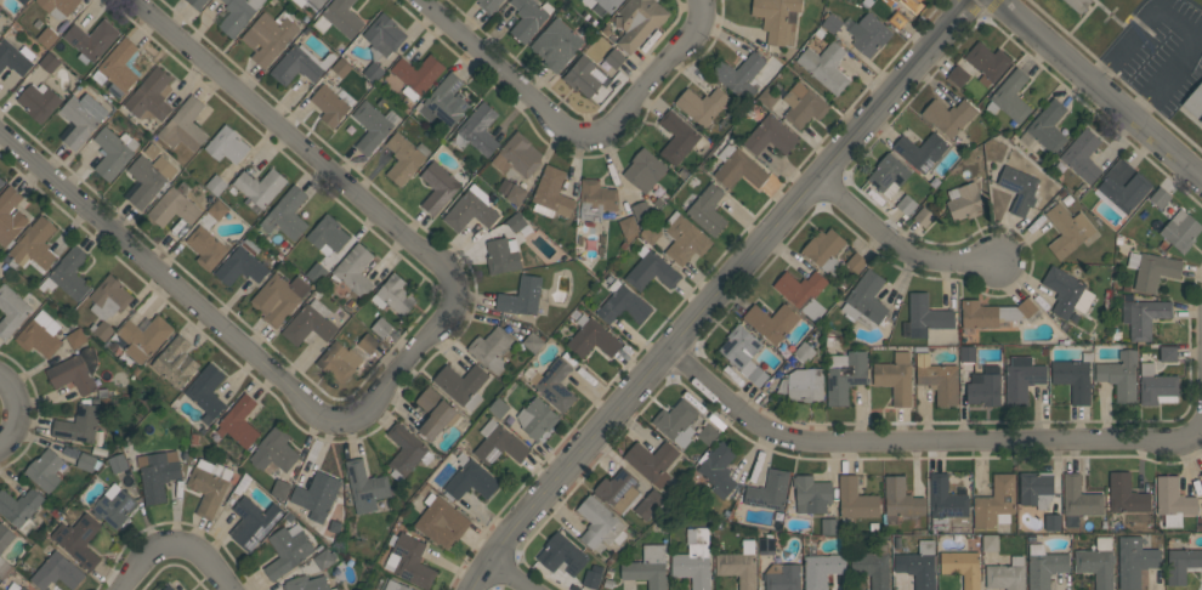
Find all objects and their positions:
building: (23, 1)
building: (195, 2)
building: (308, 2)
building: (488, 5)
building: (602, 5)
building: (913, 5)
building: (1078, 5)
building: (58, 7)
building: (238, 15)
building: (339, 18)
building: (528, 18)
building: (778, 19)
building: (897, 19)
building: (637, 22)
building: (832, 23)
building: (868, 34)
building: (270, 35)
building: (382, 35)
building: (47, 38)
building: (91, 39)
building: (556, 45)
building: (15, 57)
building: (614, 58)
building: (49, 62)
building: (987, 62)
road: (1140, 63)
building: (299, 64)
building: (118, 66)
building: (341, 67)
building: (826, 67)
building: (373, 72)
building: (416, 75)
building: (584, 75)
building: (739, 75)
building: (958, 75)
road: (1100, 87)
building: (151, 96)
building: (767, 97)
building: (1010, 97)
building: (447, 100)
building: (38, 101)
building: (1195, 101)
building: (329, 104)
building: (702, 104)
building: (803, 104)
building: (949, 115)
building: (81, 118)
building: (1201, 120)
building: (185, 125)
building: (370, 127)
building: (1045, 127)
building: (477, 130)
road: (574, 130)
building: (770, 136)
building: (676, 137)
building: (226, 146)
building: (920, 151)
building: (113, 152)
building: (517, 155)
building: (1082, 155)
building: (404, 158)
building: (737, 166)
building: (643, 170)
building: (889, 175)
building: (149, 178)
building: (1, 182)
building: (215, 185)
building: (1123, 185)
building: (260, 186)
building: (438, 187)
building: (1019, 188)
building: (551, 193)
building: (516, 194)
building: (1160, 197)
building: (596, 199)
building: (965, 202)
building: (906, 204)
building: (174, 208)
building: (217, 209)
building: (471, 209)
building: (708, 209)
building: (641, 210)
building: (287, 214)
building: (10, 215)
building: (924, 216)
building: (518, 223)
building: (628, 227)
building: (1067, 229)
building: (1181, 231)
building: (651, 232)
building: (328, 234)
building: (685, 238)
building: (34, 244)
building: (206, 248)
road: (901, 248)
building: (824, 250)
building: (501, 255)
building: (856, 262)
building: (242, 265)
building: (355, 270)
building: (651, 270)
building: (1152, 270)
building: (72, 273)
building: (316, 273)
road: (721, 290)
building: (803, 293)
building: (1066, 293)
building: (393, 295)
building: (521, 296)
building: (108, 297)
building: (278, 297)
building: (866, 300)
building: (622, 303)
building: (1027, 307)
building: (11, 312)
building: (987, 313)
building: (924, 316)
building: (1144, 317)
building: (771, 322)
building: (310, 323)
building: (381, 328)
building: (103, 330)
building: (40, 334)
building: (144, 336)
building: (75, 337)
building: (591, 337)
building: (533, 341)
building: (492, 348)
building: (804, 352)
building: (743, 353)
building: (968, 353)
building: (1168, 353)
building: (176, 362)
building: (335, 362)
road: (402, 370)
building: (75, 371)
building: (845, 375)
building: (1121, 375)
building: (895, 378)
building: (939, 379)
building: (1021, 379)
building: (1073, 379)
building: (461, 385)
building: (554, 385)
building: (803, 385)
building: (985, 386)
building: (1157, 386)
building: (206, 392)
building: (498, 408)
road: (17, 413)
building: (436, 413)
building: (537, 418)
building: (239, 421)
building: (676, 422)
building: (78, 424)
building: (708, 433)
road: (924, 441)
building: (499, 443)
building: (274, 450)
building: (406, 450)
building: (86, 461)
building: (652, 461)
building: (118, 464)
building: (718, 469)
building: (45, 470)
building: (158, 473)
building: (1201, 473)
building: (470, 478)
building: (209, 486)
building: (365, 486)
building: (1036, 488)
building: (280, 489)
building: (618, 490)
building: (769, 490)
building: (811, 493)
building: (1126, 494)
building: (316, 495)
building: (1079, 498)
building: (855, 500)
building: (900, 500)
building: (1173, 501)
building: (996, 503)
building: (650, 504)
building: (947, 505)
building: (114, 506)
building: (19, 507)
building: (441, 521)
building: (253, 522)
building: (1053, 522)
building: (600, 524)
building: (828, 526)
building: (5, 537)
building: (78, 540)
road: (176, 543)
building: (990, 543)
building: (766, 545)
building: (288, 549)
building: (562, 554)
building: (324, 558)
building: (694, 558)
building: (1, 560)
building: (409, 560)
building: (1134, 561)
building: (1098, 563)
building: (1181, 563)
building: (738, 565)
building: (919, 565)
building: (872, 566)
building: (648, 567)
building: (962, 567)
building: (1044, 567)
building: (821, 569)
building: (57, 572)
building: (593, 575)
building: (1007, 575)
road: (515, 577)
building: (782, 577)
building: (0, 579)
building: (306, 583)
building: (395, 585)
building: (22, 588)
building: (168, 588)

